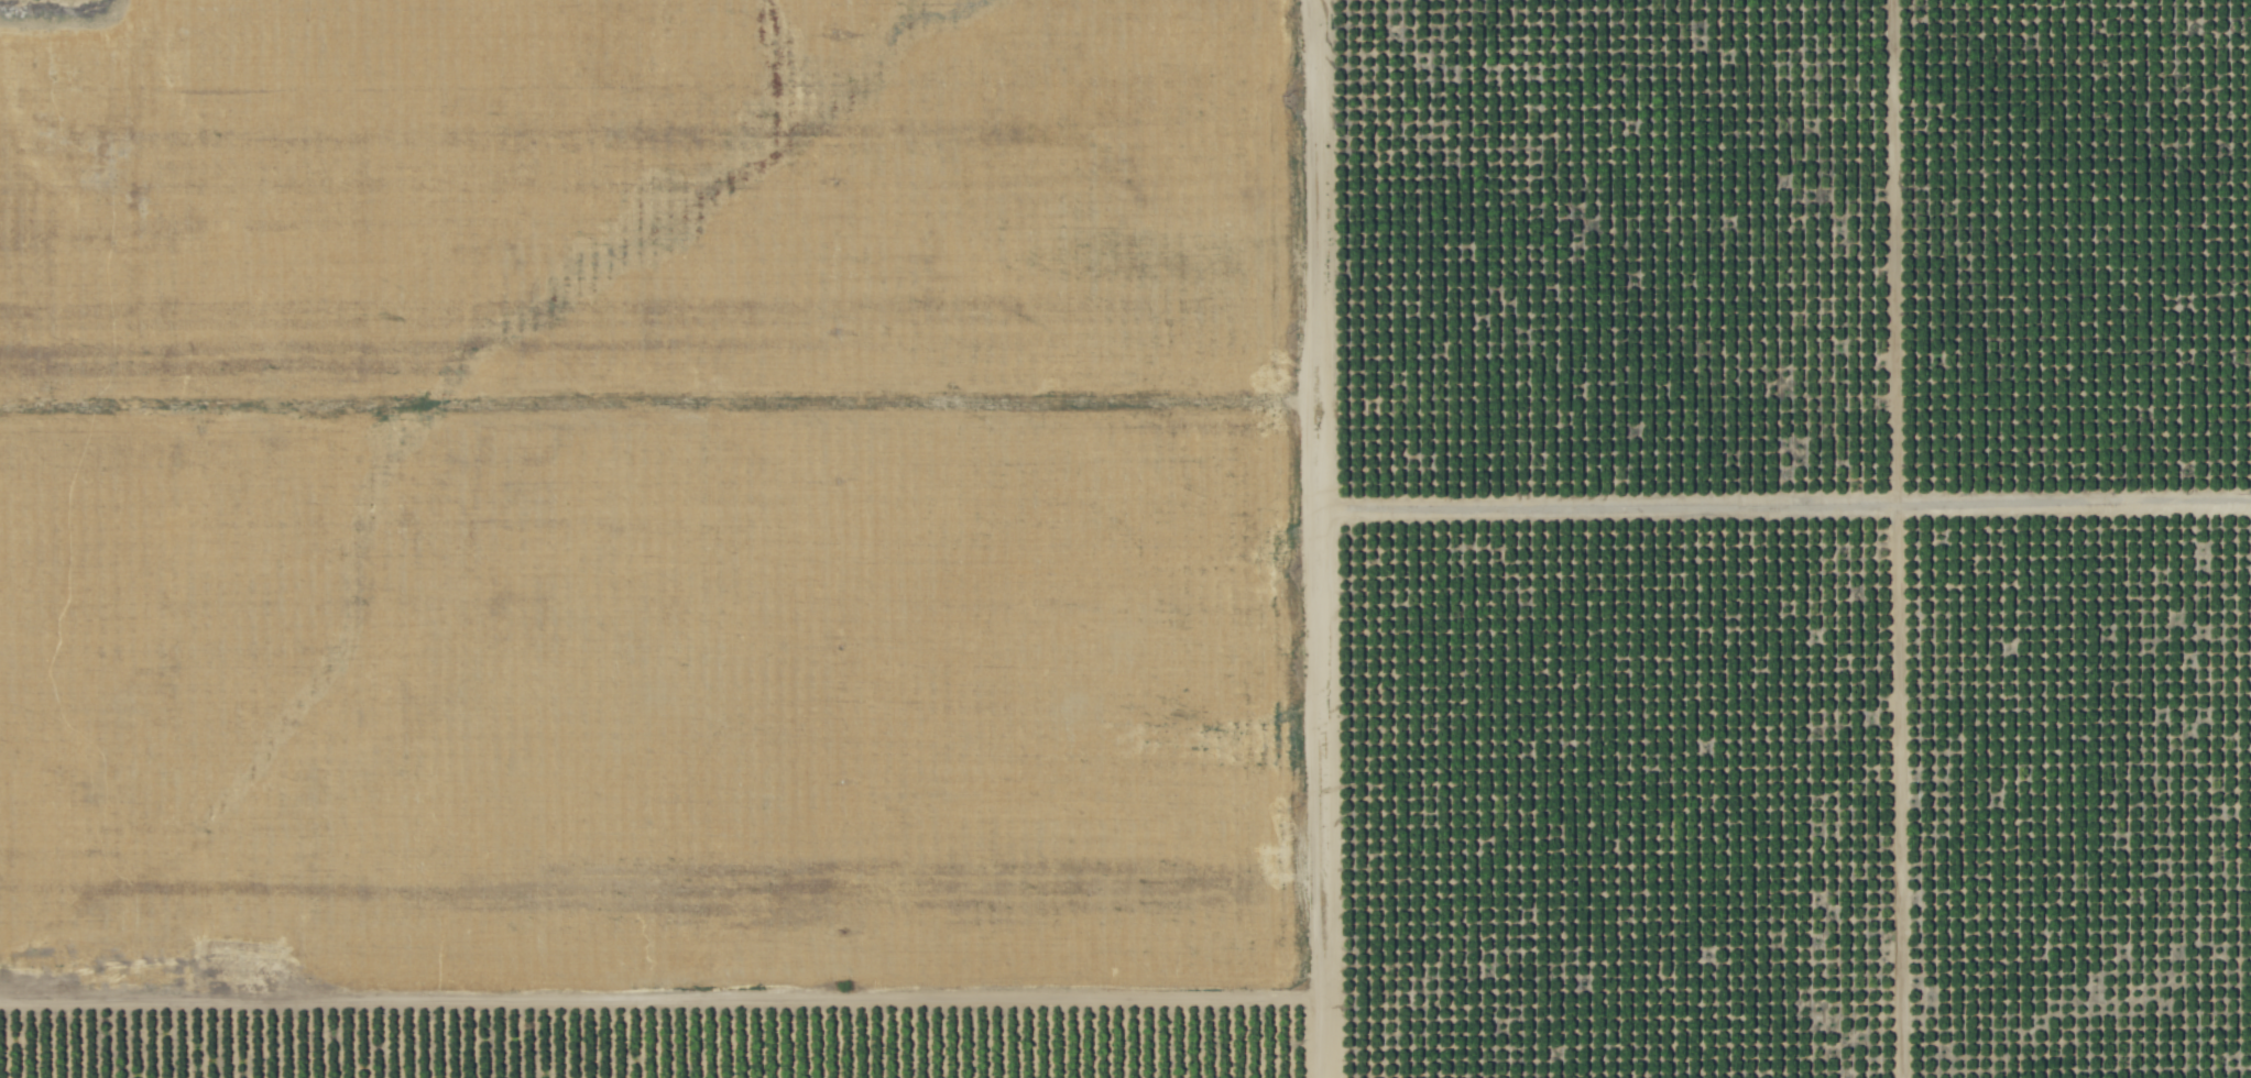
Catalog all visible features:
road: (2021, 123)
road: (1313, 539)

